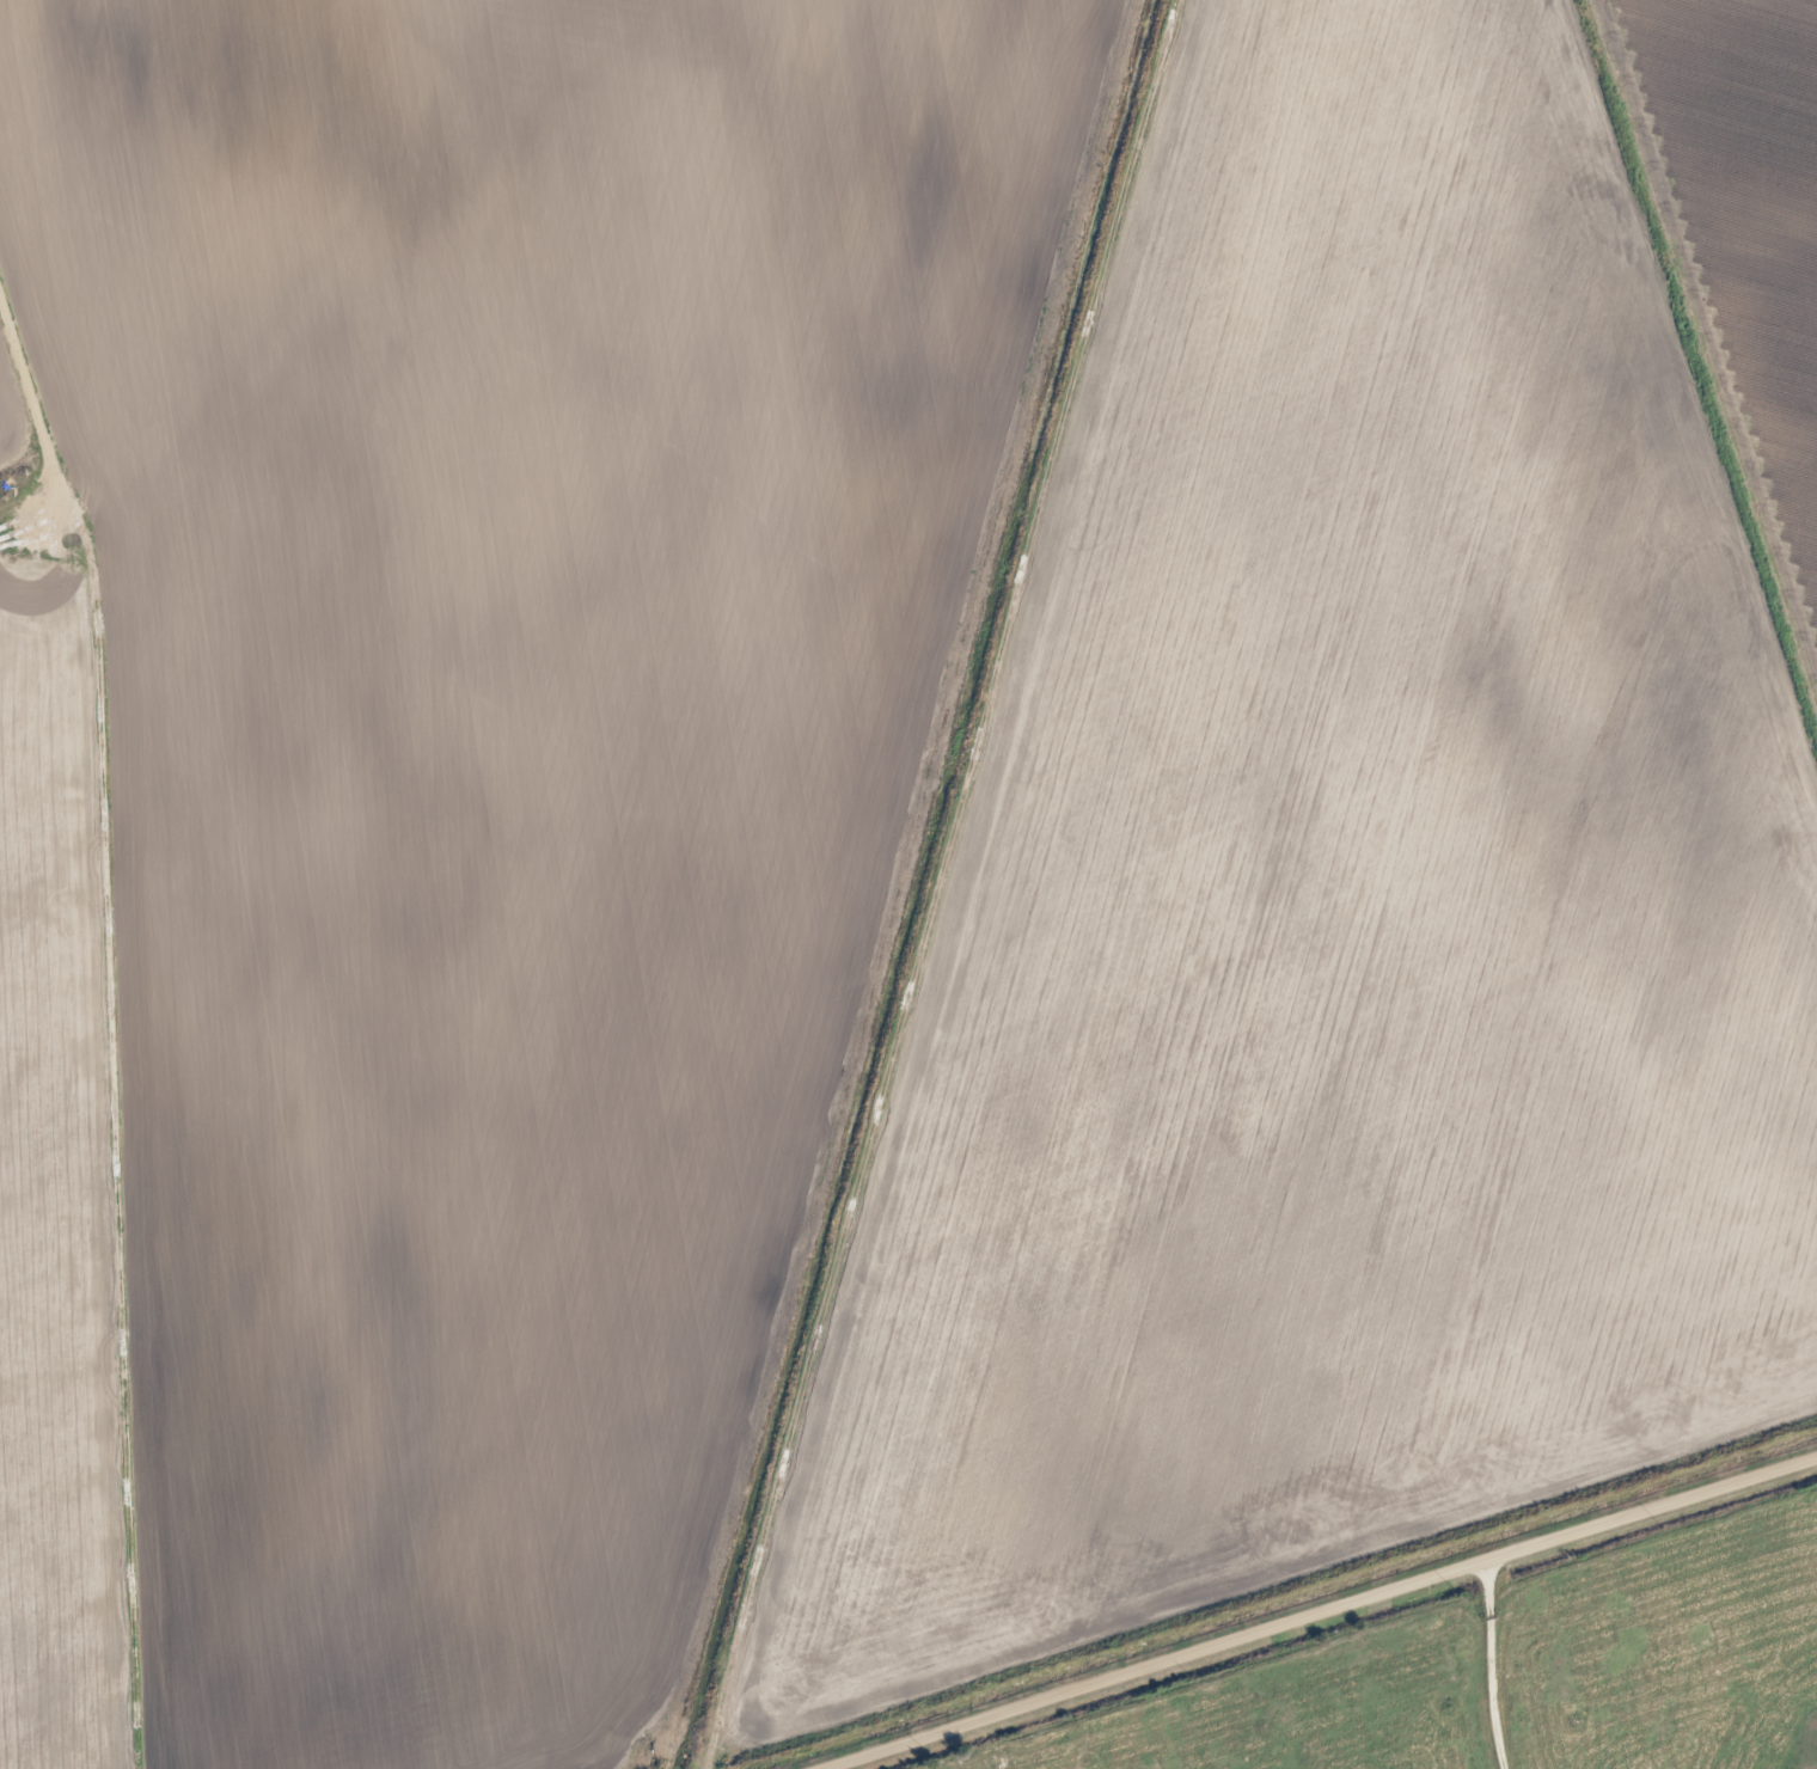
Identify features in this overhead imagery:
road: (1310, 1611)
road: (1487, 1664)
road: (723, 1727)

